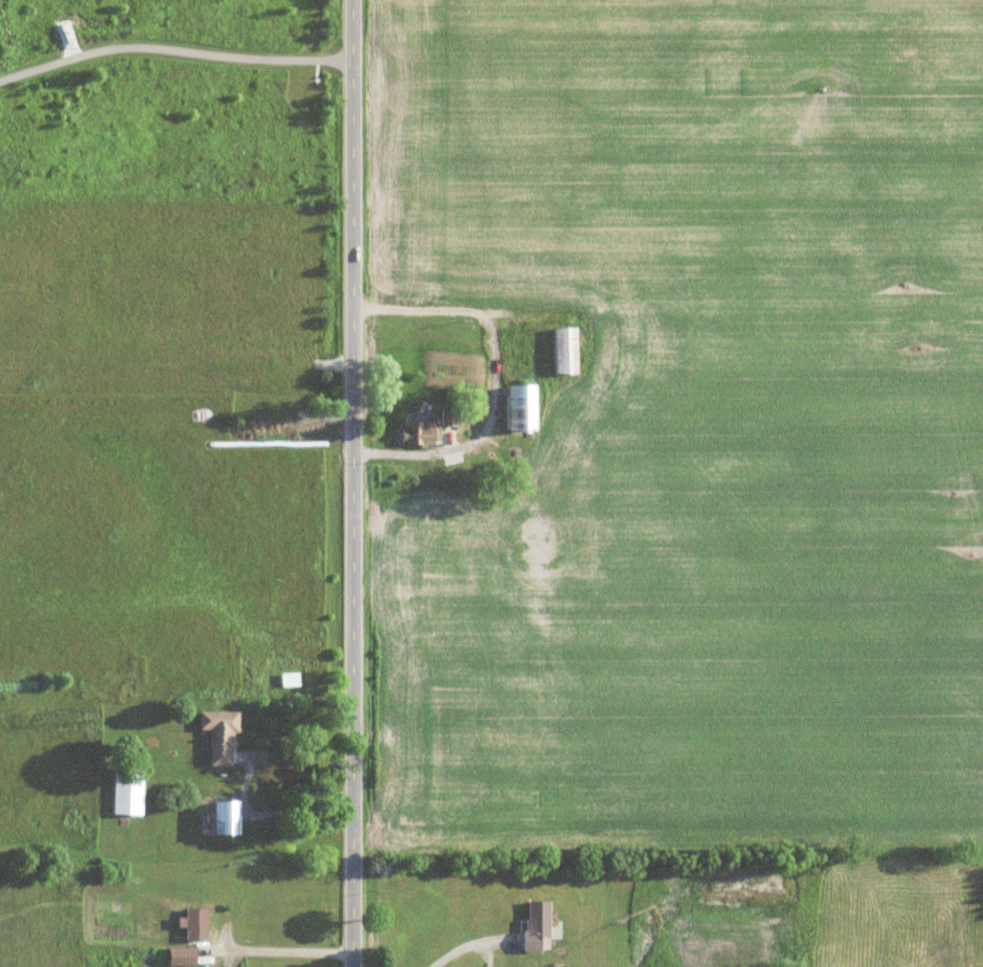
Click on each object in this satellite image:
road: (173, 51)
building: (561, 351)
road: (493, 380)
building: (517, 407)
building: (446, 418)
crop: (690, 427)
building: (414, 433)
road: (352, 483)
building: (287, 680)
building: (217, 737)
building: (125, 792)
road: (296, 806)
building: (221, 818)
building: (192, 924)
building: (532, 924)
road: (462, 947)
road: (286, 949)
building: (177, 957)

